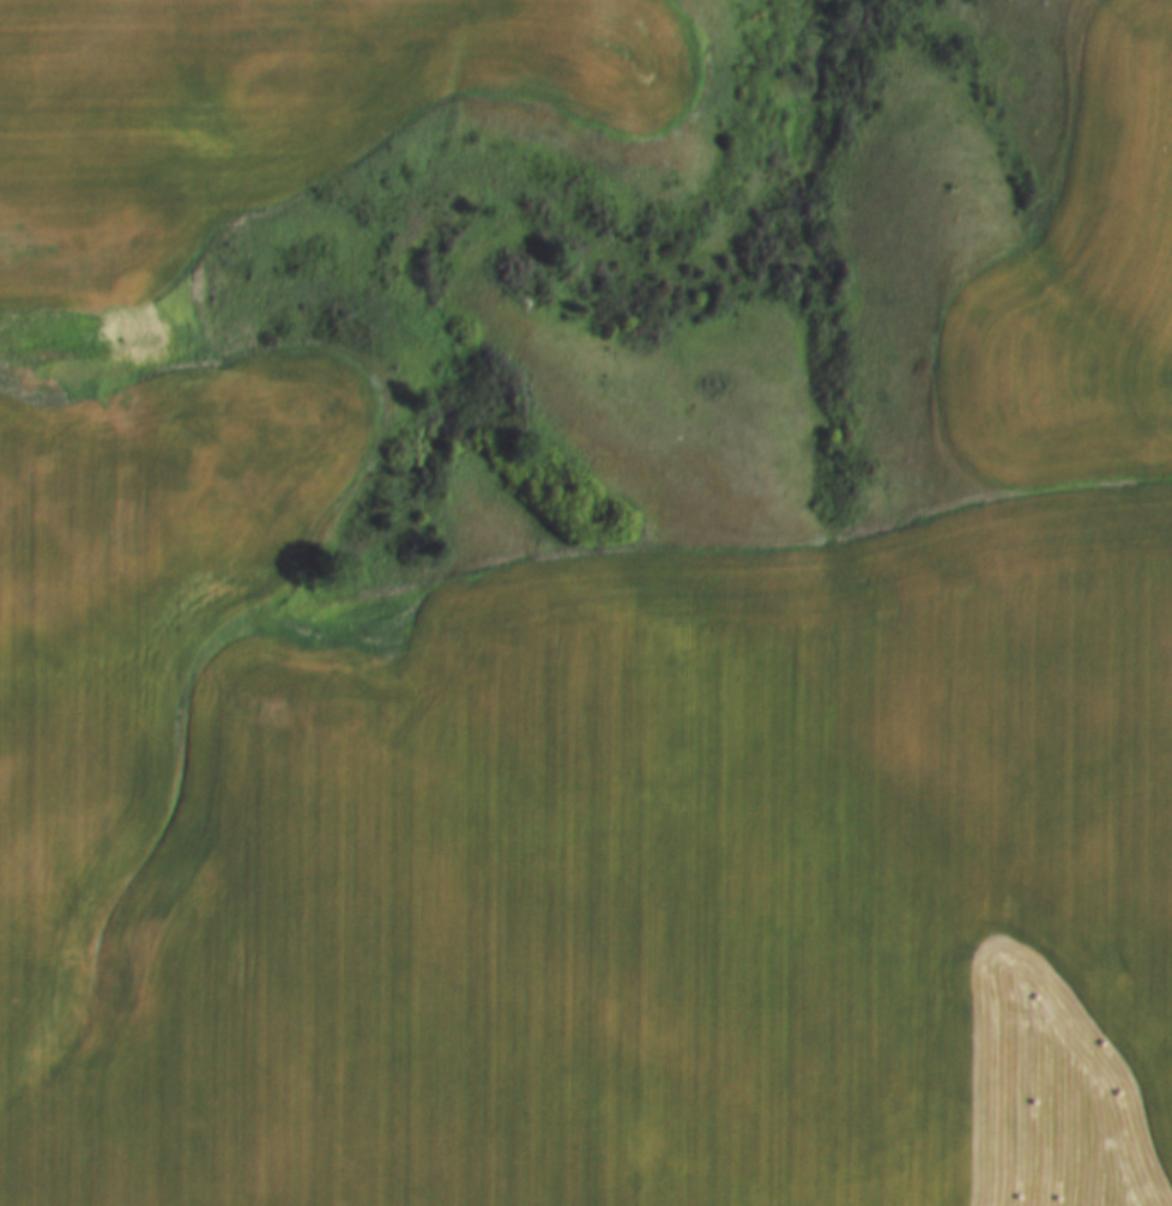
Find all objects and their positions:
road: (1007, 496)

